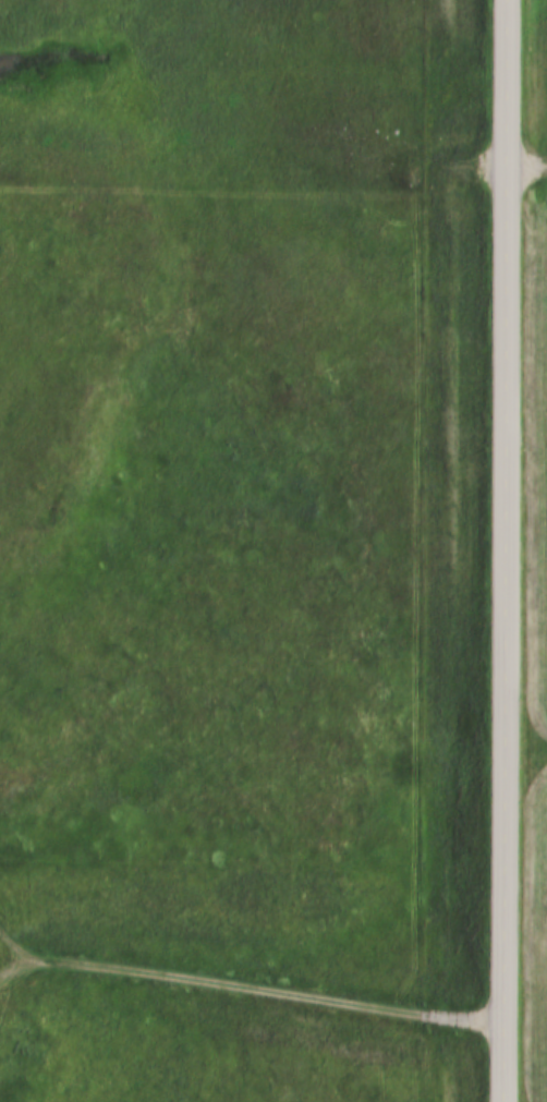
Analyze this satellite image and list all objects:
road: (526, 165)
road: (506, 550)
road: (13, 960)
road: (245, 986)

